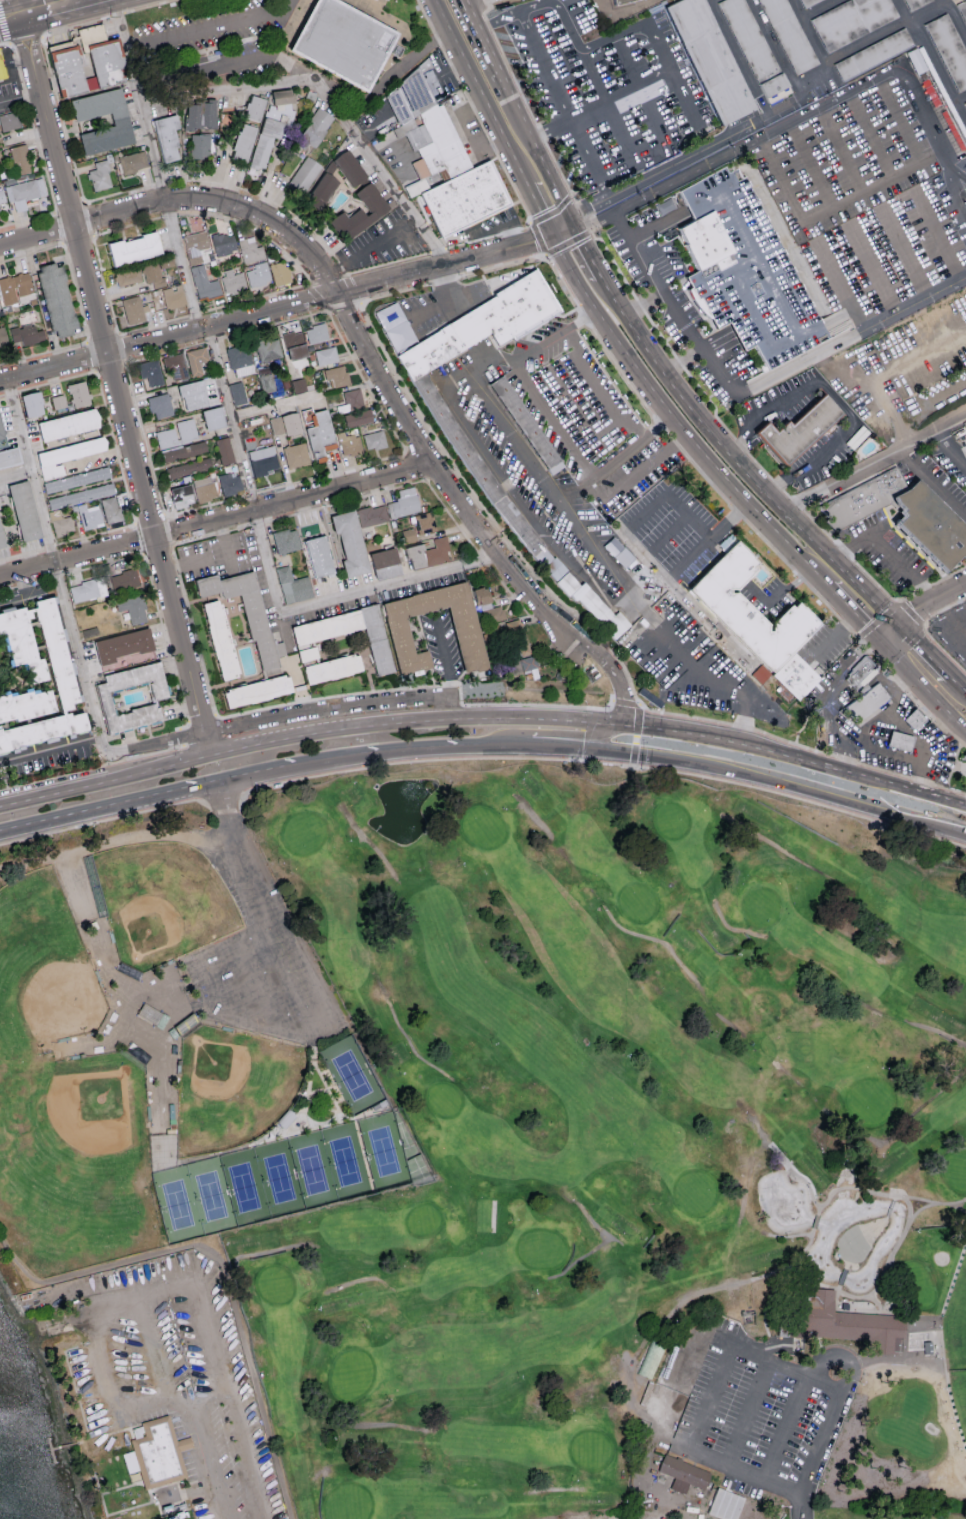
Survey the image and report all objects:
road: (450, 0)
building: (628, 3)
building: (812, 4)
road: (71, 5)
building: (917, 5)
road: (146, 6)
road: (471, 7)
road: (21, 9)
building: (962, 13)
road: (35, 14)
road: (116, 14)
road: (11, 20)
road: (74, 24)
building: (854, 24)
road: (209, 29)
road: (26, 37)
building: (789, 37)
road: (9, 42)
building: (340, 49)
building: (753, 49)
building: (950, 52)
building: (874, 58)
road: (16, 60)
road: (456, 60)
building: (101, 61)
road: (190, 63)
road: (545, 63)
building: (711, 63)
road: (221, 66)
building: (3, 67)
road: (19, 70)
building: (65, 76)
road: (396, 77)
road: (322, 89)
parking lot: (11, 91)
road: (492, 92)
road: (641, 92)
road: (523, 96)
road: (617, 97)
building: (410, 101)
road: (20, 102)
road: (683, 102)
building: (254, 107)
road: (829, 107)
building: (965, 108)
road: (475, 111)
road: (610, 112)
building: (201, 115)
road: (62, 119)
road: (867, 120)
building: (9, 121)
building: (120, 123)
road: (371, 125)
road: (463, 126)
building: (270, 127)
building: (316, 128)
building: (167, 137)
building: (243, 142)
building: (200, 145)
building: (435, 147)
building: (20, 159)
road: (690, 159)
road: (42, 160)
building: (133, 161)
building: (349, 168)
road: (851, 172)
building: (100, 176)
building: (303, 177)
road: (160, 182)
road: (808, 183)
building: (321, 191)
building: (24, 192)
road: (118, 192)
building: (1, 195)
road: (271, 201)
building: (965, 202)
building: (464, 203)
road: (547, 203)
road: (68, 207)
building: (360, 212)
road: (580, 212)
road: (168, 214)
road: (168, 217)
road: (88, 218)
road: (26, 219)
road: (655, 222)
road: (592, 224)
traffic signals: (558, 225)
road: (392, 233)
road: (937, 235)
road: (537, 238)
road: (62, 242)
building: (223, 243)
building: (196, 246)
road: (584, 246)
building: (134, 249)
road: (95, 250)
building: (250, 250)
road: (437, 251)
road: (906, 251)
road: (31, 252)
road: (297, 265)
road: (873, 268)
building: (745, 269)
building: (280, 273)
building: (152, 274)
building: (258, 274)
building: (127, 276)
building: (233, 281)
building: (204, 283)
road: (840, 283)
road: (309, 285)
road: (772, 287)
building: (16, 288)
road: (470, 293)
road: (744, 293)
road: (76, 294)
building: (174, 296)
building: (57, 299)
road: (643, 302)
road: (280, 308)
building: (133, 309)
road: (194, 314)
road: (350, 320)
road: (153, 324)
road: (271, 324)
building: (316, 333)
building: (26, 335)
road: (102, 337)
building: (3, 339)
road: (210, 341)
road: (545, 341)
building: (294, 345)
road: (122, 348)
building: (268, 349)
road: (42, 352)
road: (165, 352)
road: (606, 352)
building: (325, 355)
road: (91, 356)
road: (681, 357)
building: (196, 360)
building: (240, 360)
road: (127, 365)
building: (175, 366)
road: (110, 367)
road: (889, 369)
building: (150, 371)
building: (336, 375)
road: (53, 381)
road: (364, 382)
building: (267, 385)
building: (298, 385)
road: (950, 386)
road: (752, 389)
road: (11, 392)
building: (237, 393)
road: (2, 394)
building: (79, 394)
building: (193, 395)
building: (353, 399)
road: (605, 400)
road: (834, 400)
building: (58, 401)
road: (121, 404)
building: (32, 405)
building: (160, 406)
building: (431, 408)
road: (262, 409)
road: (671, 416)
road: (948, 417)
building: (213, 418)
building: (358, 418)
building: (285, 424)
road: (723, 424)
building: (68, 425)
building: (525, 429)
building: (799, 430)
building: (1, 431)
building: (319, 433)
building: (177, 434)
road: (431, 434)
road: (145, 440)
building: (374, 440)
road: (114, 444)
building: (349, 444)
road: (571, 445)
road: (948, 445)
building: (224, 450)
building: (184, 451)
building: (296, 455)
building: (66, 456)
building: (9, 457)
road: (100, 457)
road: (737, 460)
building: (262, 461)
road: (417, 465)
building: (188, 468)
road: (646, 468)
road: (857, 468)
road: (32, 471)
road: (332, 472)
road: (16, 475)
building: (76, 479)
building: (230, 483)
road: (931, 483)
building: (205, 488)
road: (507, 490)
road: (250, 494)
building: (80, 496)
building: (182, 496)
road: (672, 496)
road: (345, 500)
building: (403, 503)
road: (203, 506)
building: (111, 509)
building: (24, 510)
road: (450, 514)
building: (371, 515)
building: (88, 516)
road: (149, 519)
road: (216, 520)
building: (424, 522)
building: (902, 522)
building: (60, 523)
road: (257, 523)
road: (878, 524)
road: (168, 530)
road: (670, 532)
road: (97, 534)
road: (214, 535)
building: (408, 535)
road: (710, 537)
road: (139, 539)
building: (1, 540)
building: (285, 540)
building: (350, 543)
road: (50, 546)
road: (228, 546)
road: (885, 546)
road: (173, 547)
road: (158, 550)
road: (21, 553)
building: (428, 554)
building: (318, 556)
road: (481, 557)
road: (185, 562)
road: (104, 564)
building: (385, 564)
road: (57, 575)
road: (272, 577)
building: (124, 580)
road: (25, 584)
road: (928, 584)
building: (292, 585)
building: (87, 589)
road: (510, 592)
road: (777, 594)
building: (481, 595)
road: (22, 596)
road: (819, 597)
road: (917, 607)
building: (133, 608)
road: (947, 608)
road: (646, 609)
road: (913, 611)
building: (494, 613)
road: (851, 614)
building: (247, 615)
road: (880, 618)
traffic signals: (897, 624)
road: (194, 632)
building: (515, 632)
building: (466, 633)
road: (164, 637)
building: (311, 637)
road: (954, 638)
road: (833, 639)
building: (220, 640)
road: (902, 642)
building: (123, 645)
road: (940, 646)
road: (922, 649)
building: (307, 654)
road: (80, 656)
road: (445, 658)
building: (523, 663)
building: (332, 669)
building: (859, 670)
building: (794, 678)
building: (35, 679)
road: (619, 680)
road: (957, 685)
road: (922, 687)
building: (257, 691)
road: (335, 695)
building: (104, 698)
road: (824, 698)
building: (865, 703)
road: (528, 704)
road: (325, 707)
road: (449, 707)
road: (200, 717)
road: (483, 717)
building: (913, 721)
road: (636, 722)
traffic signals: (624, 724)
road: (185, 725)
road: (907, 730)
road: (181, 736)
road: (599, 737)
building: (899, 742)
road: (153, 745)
road: (434, 745)
road: (504, 745)
road: (802, 746)
road: (50, 747)
road: (551, 747)
traffic signals: (574, 748)
road: (157, 752)
road: (333, 756)
road: (606, 764)
road: (66, 773)
road: (226, 777)
road: (764, 779)
road: (223, 798)
road: (221, 804)
road: (87, 810)
park: (671, 820)
road: (101, 821)
park: (483, 828)
park: (304, 832)
road: (957, 835)
road: (112, 838)
street lamp: (459, 867)
park: (636, 902)
park: (160, 903)
park: (761, 906)
park: (43, 964)
parking lot: (260, 964)
road: (253, 985)
building: (152, 1015)
road: (306, 1031)
park: (349, 1076)
park: (232, 1089)
park: (444, 1099)
park: (869, 1101)
park: (522, 1132)
park: (618, 1144)
park: (76, 1158)
park: (953, 1172)
park: (279, 1176)
park: (694, 1192)
park: (423, 1220)
park: (541, 1249)
road: (222, 1269)
park: (274, 1285)
road: (162, 1289)
building: (849, 1323)
road: (710, 1340)
road: (839, 1359)
park: (350, 1374)
road: (710, 1400)
parking lot: (754, 1414)
road: (745, 1415)
road: (129, 1425)
road: (784, 1431)
road: (68, 1443)
pier: (55, 1447)
pier: (51, 1449)
park: (589, 1449)
building: (156, 1452)
building: (683, 1473)
park: (348, 1502)
building: (725, 1504)

